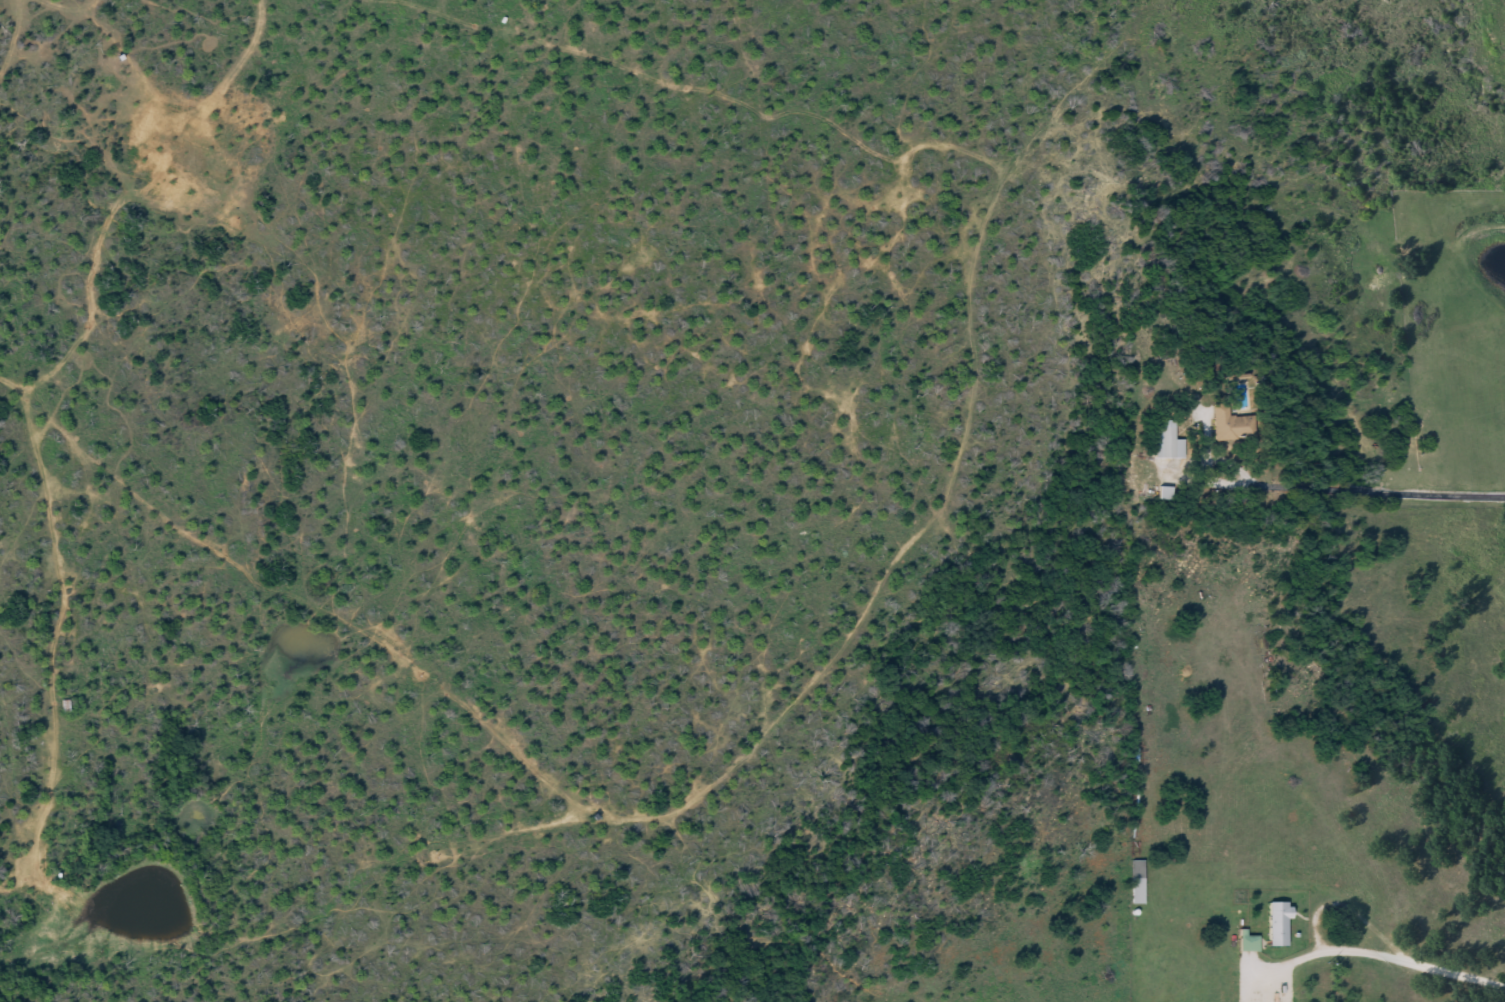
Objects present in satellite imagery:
building: (1230, 429)
building: (1165, 445)
building: (1136, 894)
building: (1276, 928)
building: (1246, 947)
road: (1406, 955)

